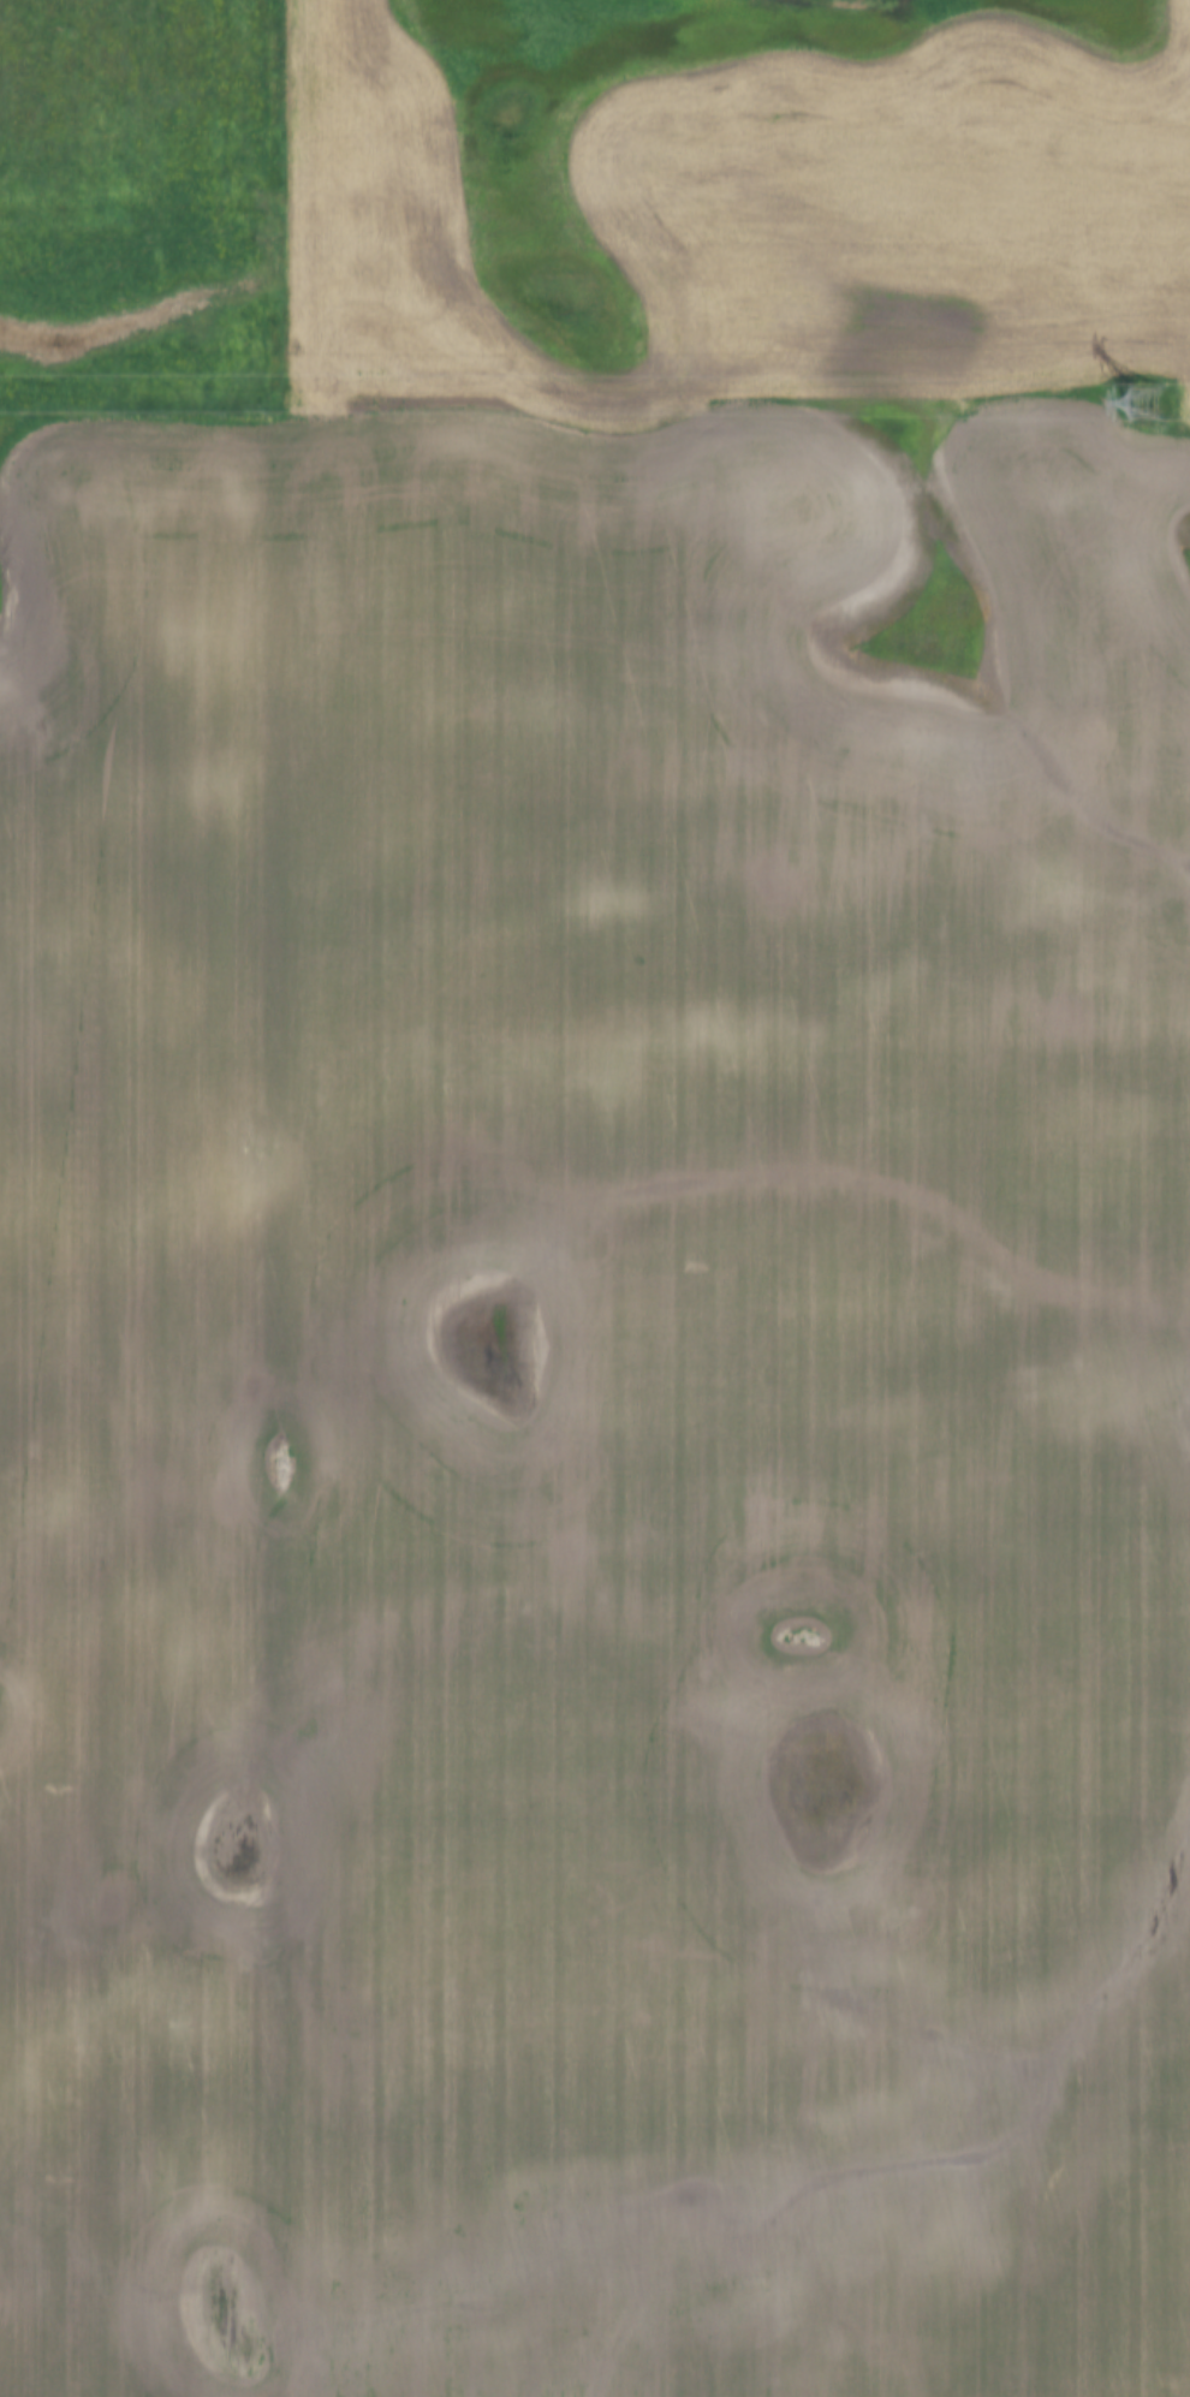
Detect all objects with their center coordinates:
power tower: (1146, 404)

